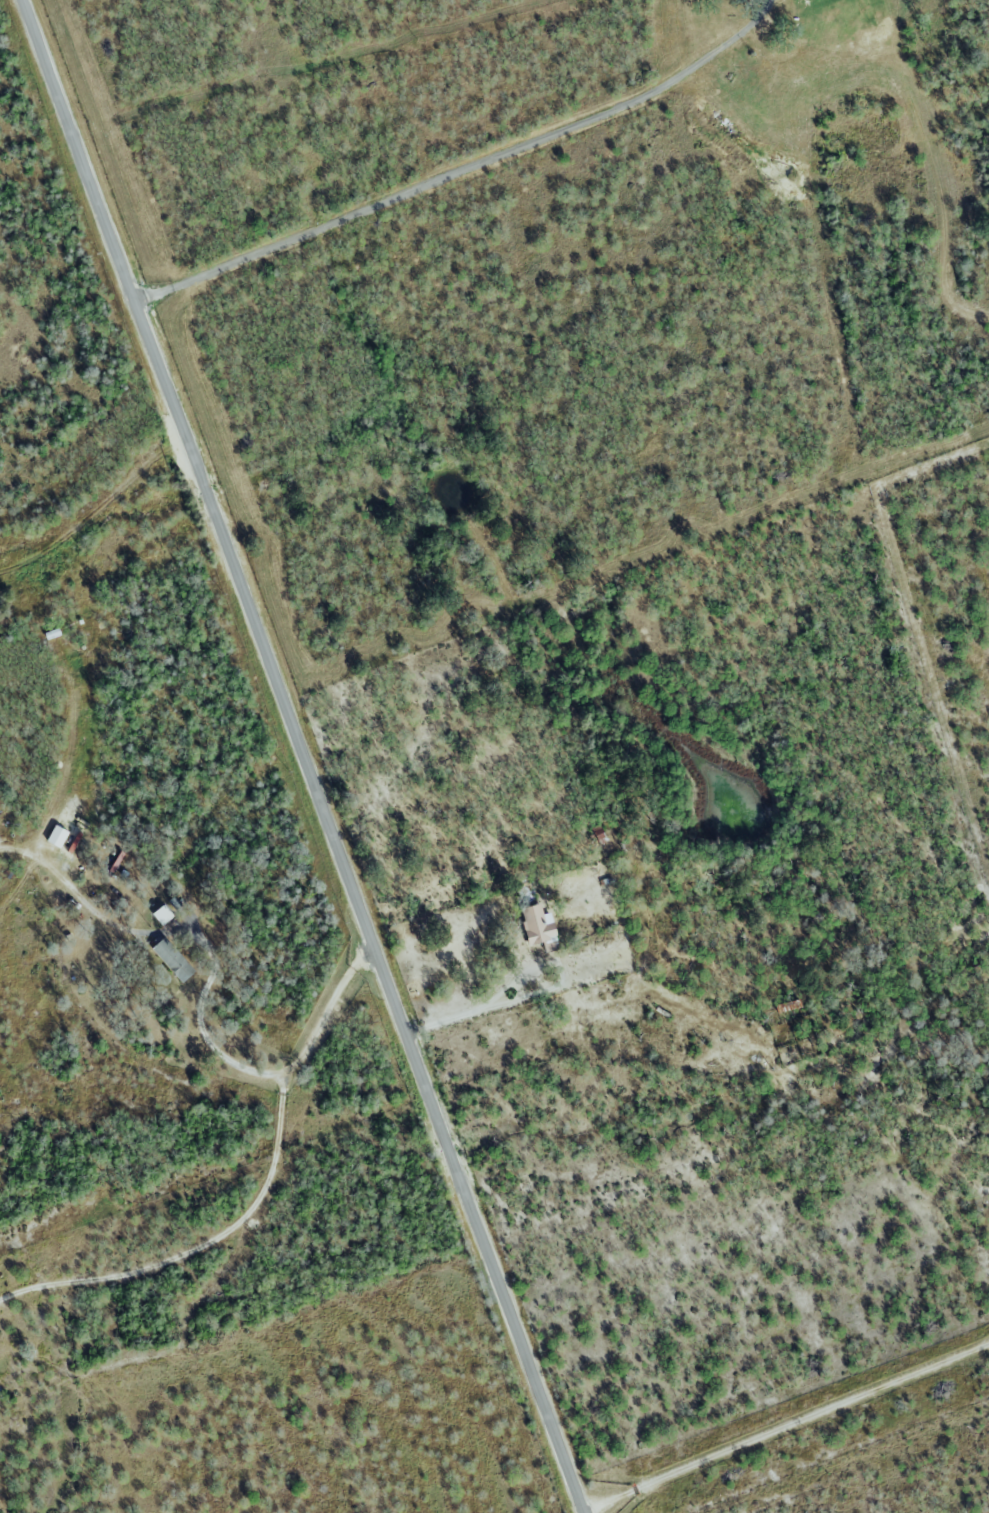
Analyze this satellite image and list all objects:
road: (461, 170)
road: (96, 511)
building: (52, 634)
road: (301, 755)
building: (57, 836)
building: (71, 841)
building: (173, 904)
building: (162, 915)
building: (539, 929)
road: (181, 932)
building: (173, 960)
road: (535, 994)
road: (326, 1010)
road: (199, 1247)
road: (785, 1425)

